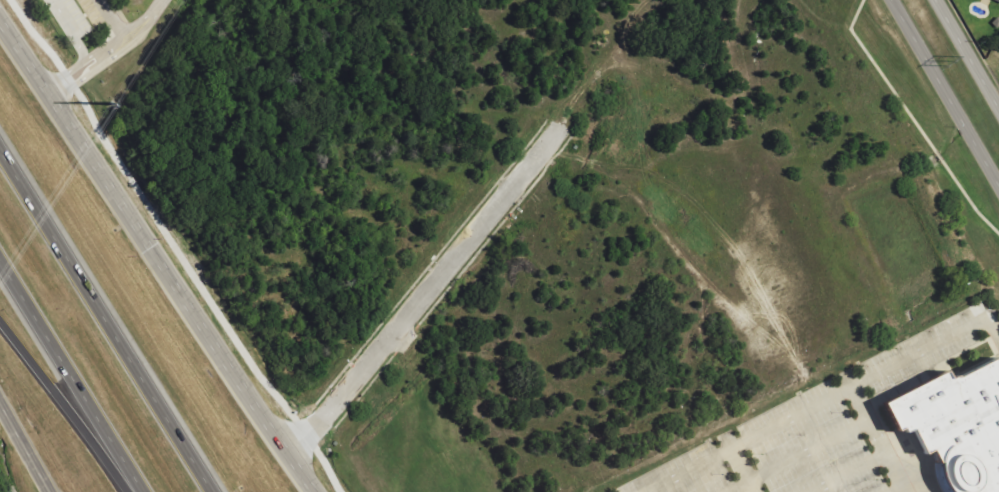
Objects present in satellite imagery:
building: (997, 0)
road: (139, 16)
road: (100, 48)
road: (967, 55)
power tower: (949, 62)
road: (944, 94)
road: (156, 254)
road: (427, 294)
road: (106, 320)
road: (70, 376)
road: (64, 406)
building: (956, 427)
road: (24, 447)
parking lot: (790, 450)

